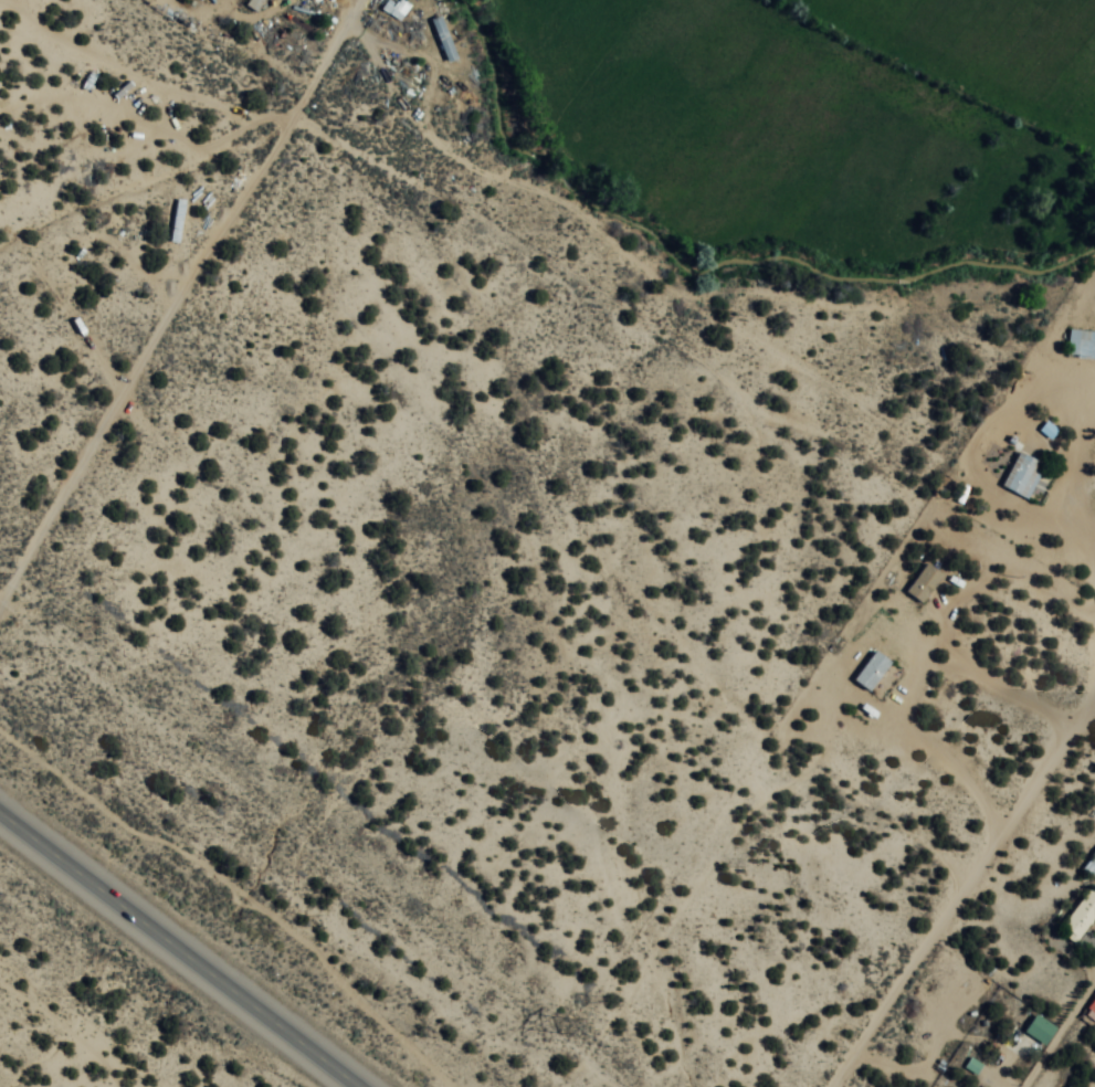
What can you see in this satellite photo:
building: (445, 41)
building: (179, 222)
road: (175, 299)
building: (1082, 346)
building: (1024, 477)
building: (926, 584)
building: (874, 673)
road: (1000, 811)
road: (847, 831)
building: (1091, 868)
building: (1083, 919)
road: (178, 949)
building: (1093, 1011)
power tower: (568, 1032)
building: (1041, 1032)
road: (67, 1034)
road: (1062, 1039)

